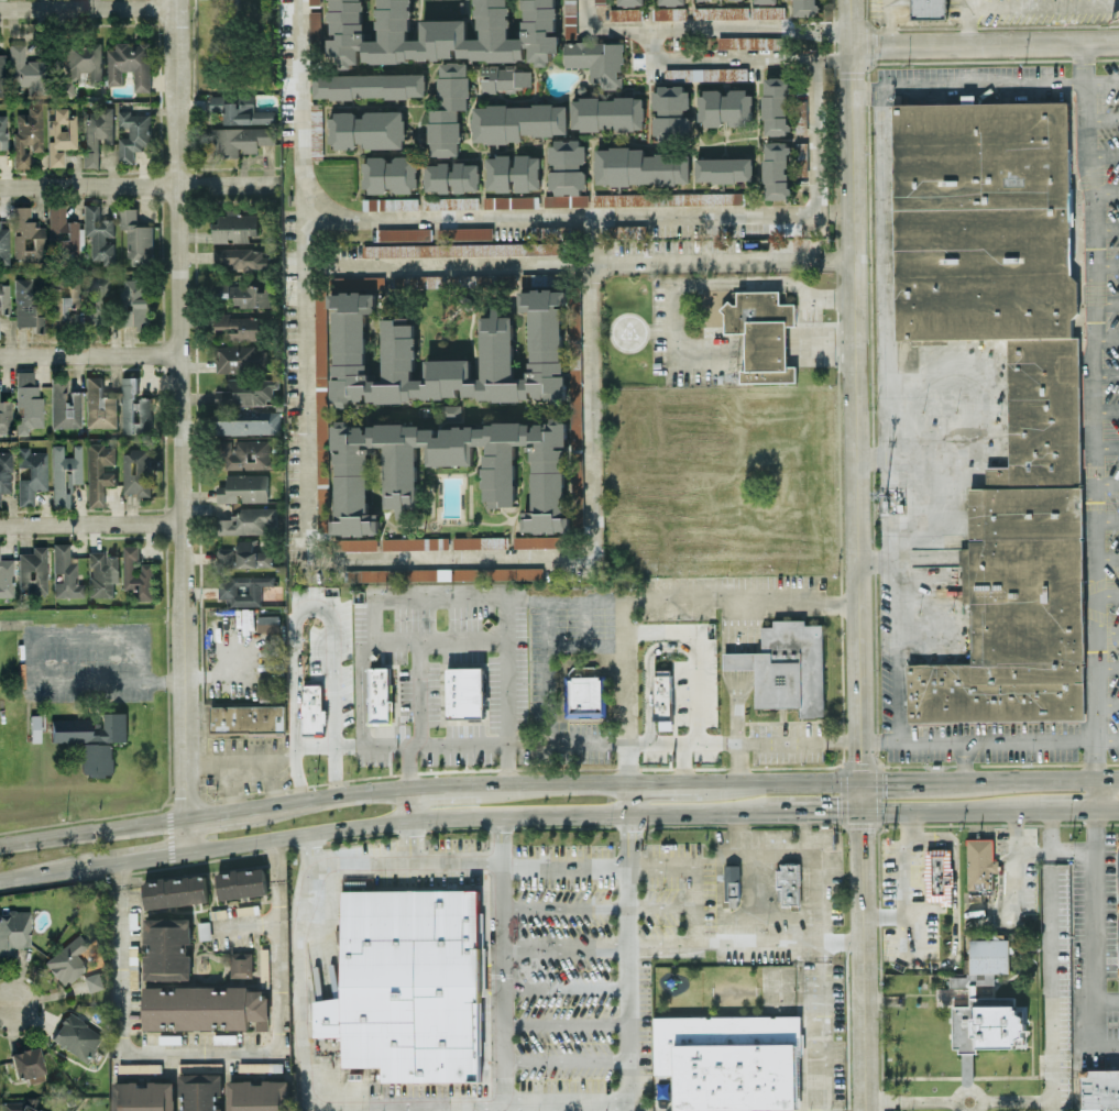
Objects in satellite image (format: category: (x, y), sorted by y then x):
building: (600, 0)
building: (766, 0)
building: (314, 1)
building: (671, 1)
building: (630, 2)
road: (87, 7)
building: (803, 7)
building: (570, 8)
building: (929, 10)
building: (767, 11)
building: (669, 12)
building: (721, 12)
road: (584, 13)
building: (624, 13)
road: (886, 22)
road: (965, 22)
road: (619, 28)
road: (754, 28)
building: (441, 33)
building: (747, 42)
road: (654, 43)
road: (984, 44)
road: (833, 53)
road: (810, 59)
building: (596, 61)
building: (130, 64)
building: (81, 65)
building: (29, 70)
building: (705, 73)
building: (2, 75)
building: (503, 77)
building: (369, 85)
road: (867, 88)
building: (775, 105)
building: (724, 107)
building: (448, 108)
building: (240, 109)
building: (670, 111)
building: (606, 112)
road: (1102, 118)
building: (516, 121)
building: (366, 129)
building: (316, 130)
building: (3, 132)
building: (96, 132)
building: (132, 134)
building: (28, 135)
building: (61, 135)
building: (240, 139)
road: (1102, 154)
building: (800, 157)
building: (639, 166)
building: (723, 168)
building: (777, 169)
building: (498, 172)
building: (527, 172)
building: (390, 174)
building: (566, 174)
building: (451, 176)
road: (224, 184)
road: (88, 186)
road: (1106, 190)
building: (613, 199)
building: (450, 201)
building: (511, 201)
building: (393, 202)
road: (834, 209)
road: (561, 215)
building: (234, 227)
road: (1106, 227)
building: (624, 230)
building: (63, 232)
building: (464, 232)
building: (99, 233)
building: (404, 233)
building: (28, 235)
building: (136, 237)
building: (4, 245)
building: (465, 249)
building: (241, 257)
road: (580, 262)
road: (1106, 263)
road: (308, 278)
building: (426, 280)
road: (695, 280)
building: (245, 294)
road: (886, 296)
building: (4, 298)
building: (98, 300)
building: (63, 301)
building: (135, 301)
road: (1107, 301)
building: (29, 304)
building: (573, 305)
building: (319, 312)
road: (811, 320)
building: (241, 326)
helipad: (628, 331)
building: (763, 331)
road: (1106, 337)
building: (349, 338)
road: (821, 346)
road: (89, 354)
building: (238, 358)
road: (1104, 373)
road: (588, 385)
building: (246, 391)
building: (574, 393)
building: (1044, 400)
building: (28, 402)
building: (65, 405)
building: (99, 405)
building: (134, 408)
road: (1105, 408)
building: (450, 409)
road: (1090, 409)
building: (321, 416)
building: (6, 417)
building: (251, 424)
road: (180, 425)
road: (1105, 443)
road: (972, 444)
building: (246, 453)
road: (871, 455)
building: (136, 471)
building: (6, 472)
building: (99, 472)
building: (65, 473)
building: (32, 474)
building: (577, 476)
road: (1105, 481)
building: (548, 485)
building: (243, 488)
building: (250, 520)
road: (1106, 521)
road: (91, 524)
building: (536, 540)
building: (478, 541)
building: (415, 542)
building: (359, 543)
building: (252, 554)
road: (856, 555)
building: (224, 557)
road: (1106, 557)
road: (451, 558)
road: (873, 559)
building: (33, 571)
building: (138, 572)
building: (102, 573)
building: (443, 573)
building: (7, 577)
building: (242, 588)
road: (1106, 593)
road: (628, 597)
road: (314, 599)
road: (371, 601)
building: (267, 623)
road: (39, 626)
road: (1106, 629)
road: (440, 640)
road: (584, 642)
road: (696, 654)
building: (786, 665)
road: (1107, 665)
road: (735, 670)
road: (648, 672)
road: (164, 681)
building: (272, 685)
road: (624, 690)
building: (464, 691)
road: (419, 692)
building: (380, 693)
building: (585, 694)
building: (662, 696)
road: (1107, 703)
building: (311, 710)
building: (248, 717)
building: (34, 727)
road: (997, 738)
road: (1107, 738)
building: (92, 739)
road: (879, 739)
road: (798, 740)
road: (622, 741)
road: (241, 756)
traffic signals: (863, 758)
road: (965, 758)
road: (683, 761)
road: (736, 762)
road: (508, 763)
road: (1042, 763)
road: (859, 765)
road: (924, 765)
road: (406, 766)
road: (429, 771)
road: (1036, 776)
traffic signals: (885, 778)
road: (908, 778)
road: (273, 779)
road: (786, 780)
road: (668, 782)
road: (232, 783)
road: (557, 783)
road: (448, 787)
road: (1096, 791)
road: (843, 794)
road: (878, 794)
road: (326, 795)
road: (626, 798)
road: (407, 803)
road: (950, 806)
road: (1066, 806)
road: (1107, 806)
road: (816, 809)
traffic signals: (836, 809)
road: (616, 813)
road: (217, 814)
road: (435, 816)
road: (149, 824)
road: (860, 824)
road: (1000, 824)
road: (626, 827)
road: (419, 829)
traffic signals: (864, 831)
road: (738, 833)
road: (1051, 835)
road: (298, 836)
road: (56, 838)
road: (408, 838)
road: (1016, 846)
road: (768, 854)
road: (155, 856)
road: (402, 857)
building: (979, 867)
road: (562, 869)
road: (61, 870)
road: (695, 871)
building: (939, 873)
building: (731, 880)
building: (241, 882)
building: (789, 883)
building: (175, 891)
building: (1118, 898)
road: (562, 906)
road: (661, 908)
building: (13, 932)
road: (1096, 936)
road: (745, 942)
building: (167, 947)
road: (562, 948)
building: (69, 959)
building: (240, 964)
road: (307, 975)
building: (94, 981)
building: (408, 983)
road: (562, 987)
road: (1053, 987)
road: (1107, 994)
building: (985, 1005)
road: (8, 1008)
building: (205, 1008)
road: (563, 1024)
road: (821, 1026)
building: (77, 1036)
road: (206, 1049)
road: (563, 1059)
building: (728, 1059)
building: (28, 1064)
building: (139, 1067)
road: (969, 1087)
building: (1099, 1088)
building: (199, 1091)
building: (257, 1094)
building: (142, 1096)
road: (912, 1099)
road: (1018, 1099)
road: (552, 1101)
building: (20, 1105)

